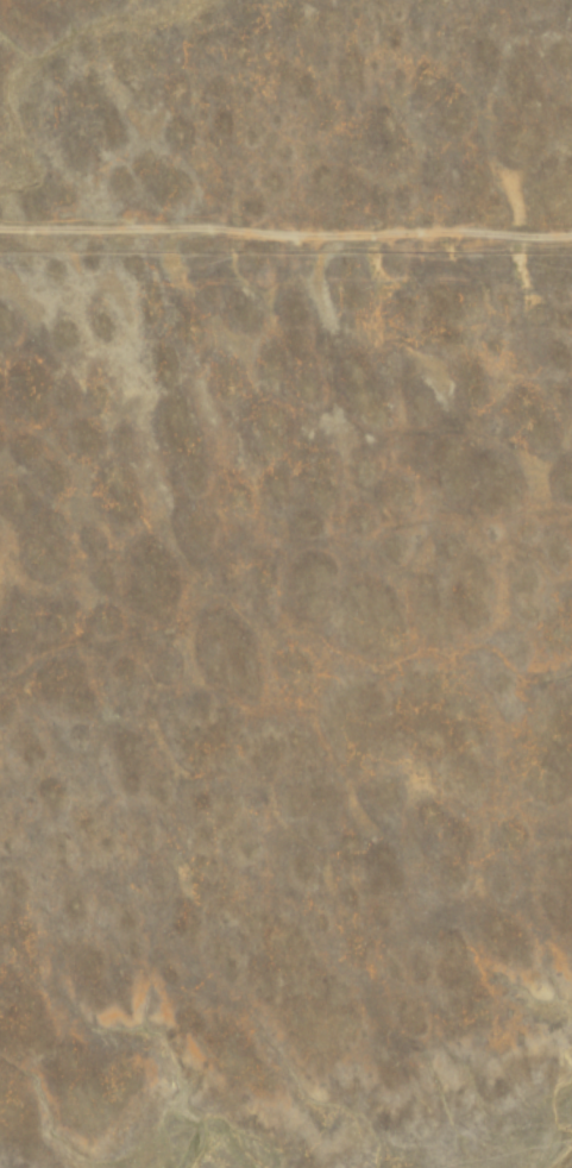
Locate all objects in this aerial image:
road: (285, 236)

